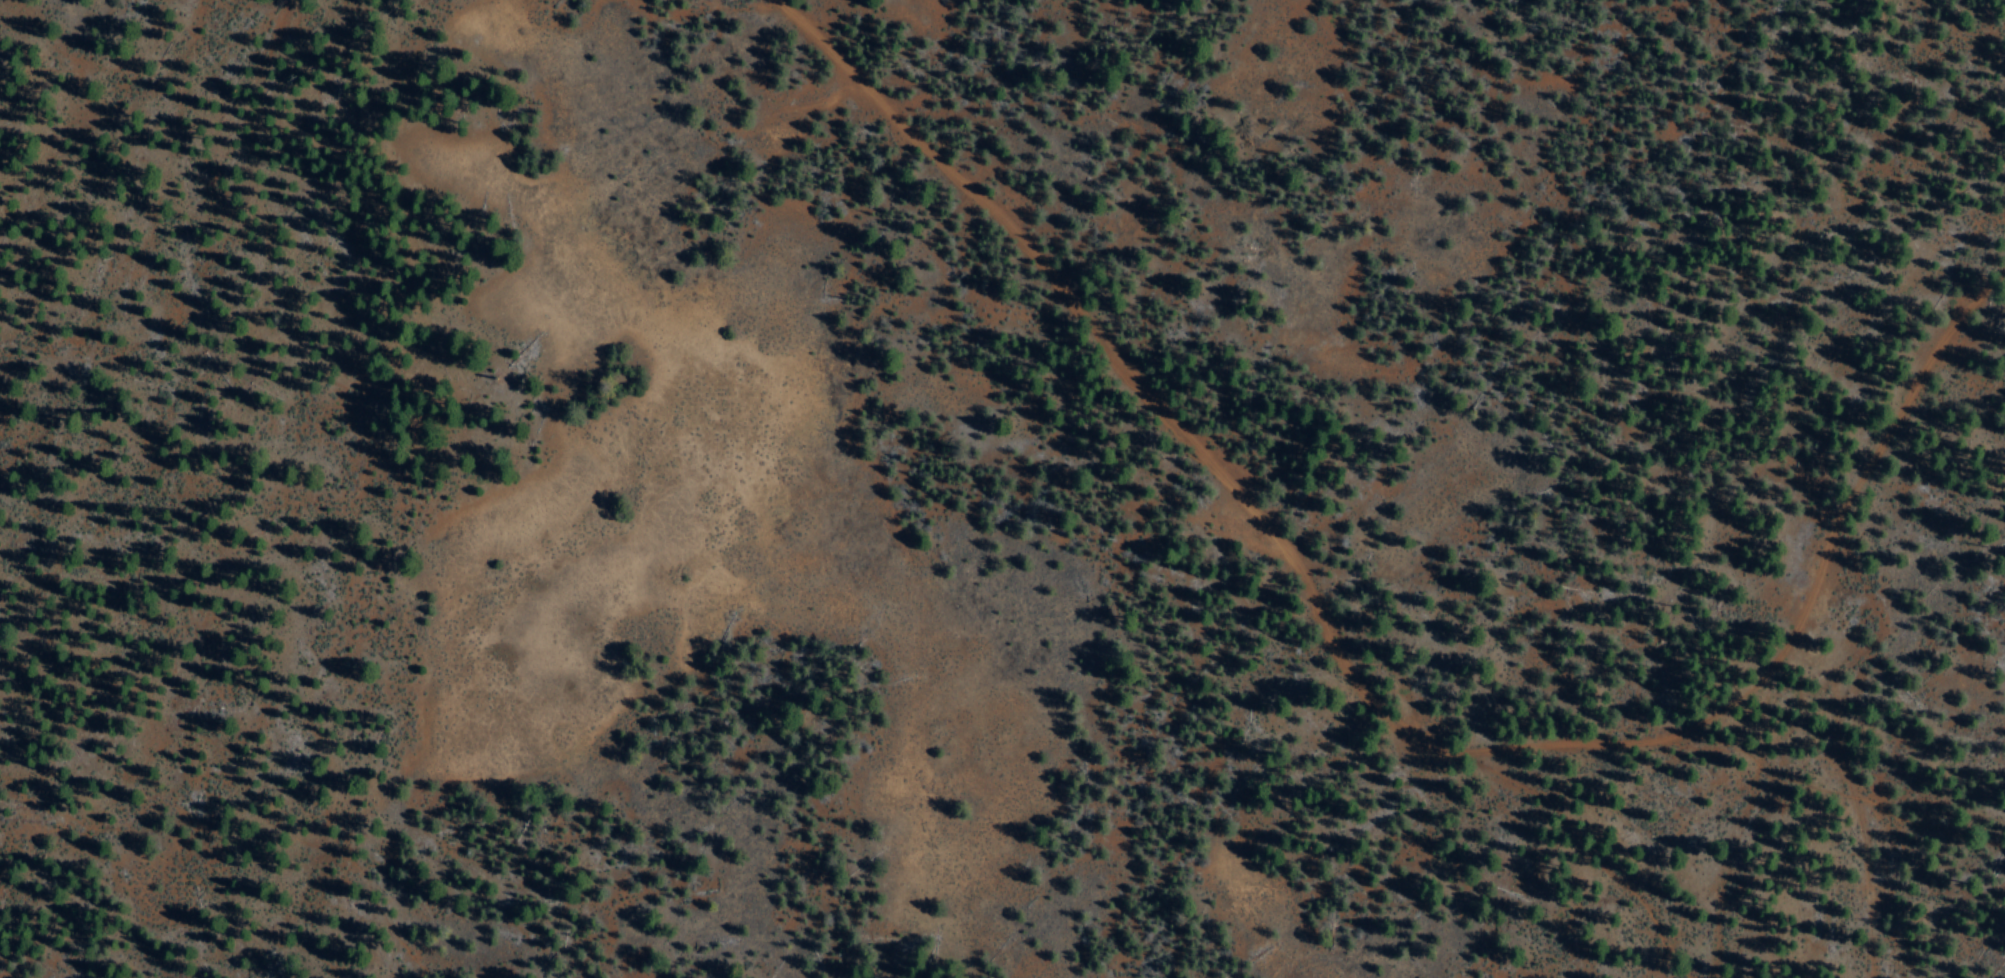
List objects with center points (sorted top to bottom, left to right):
road: (1958, 411)
road: (1368, 698)

